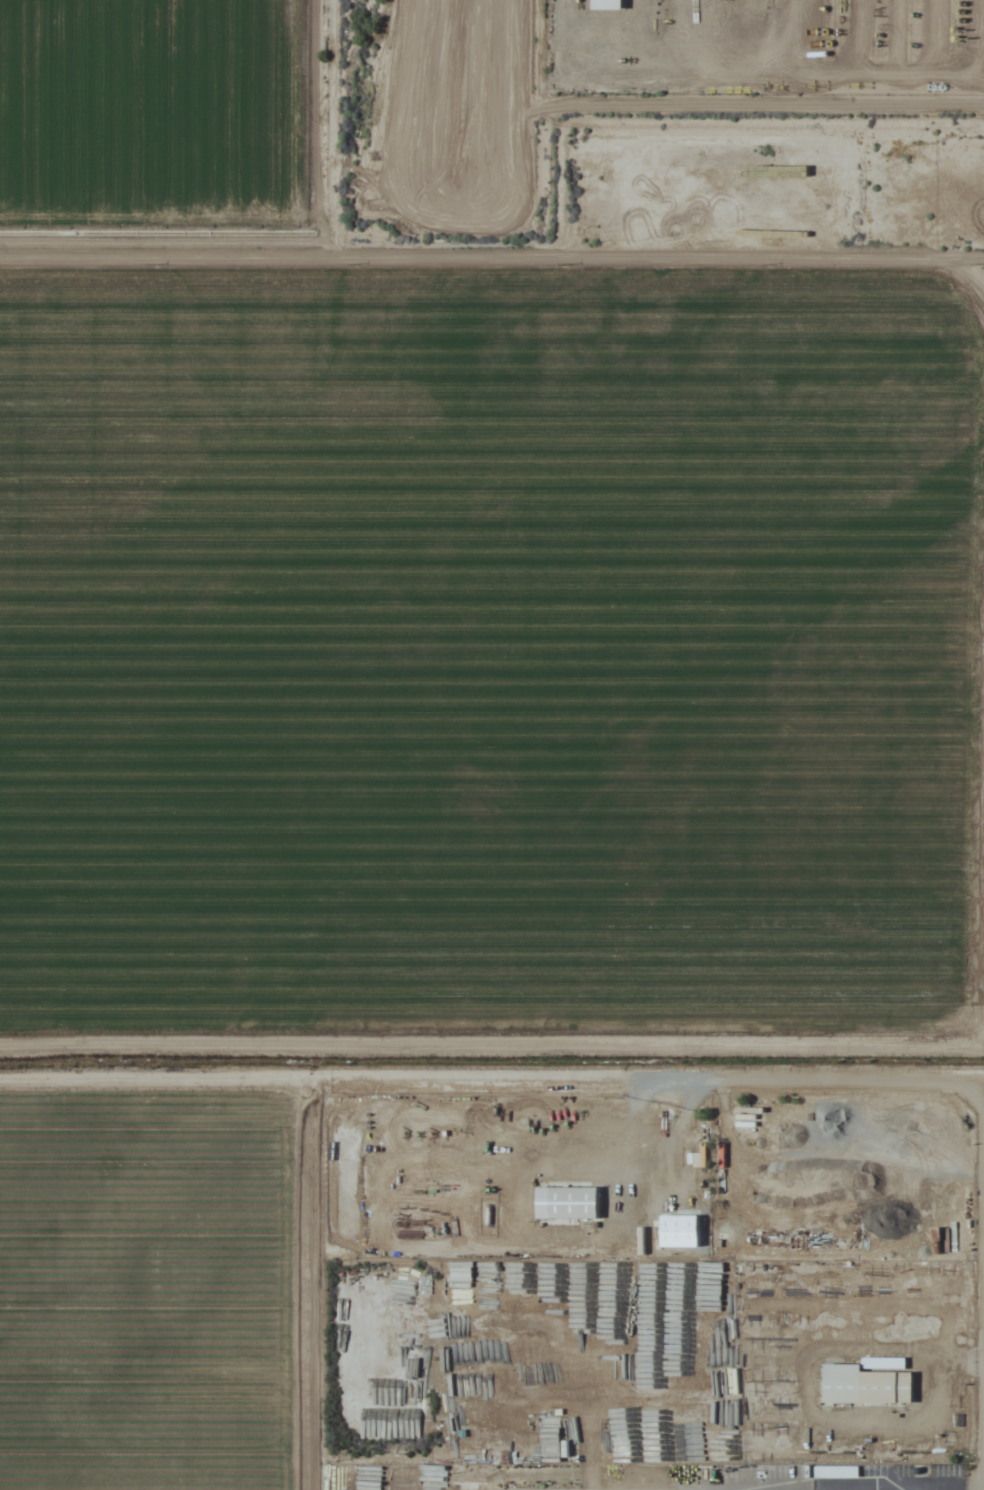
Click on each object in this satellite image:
building: (607, 5)
road: (492, 260)
building: (567, 1202)
building: (867, 1386)

